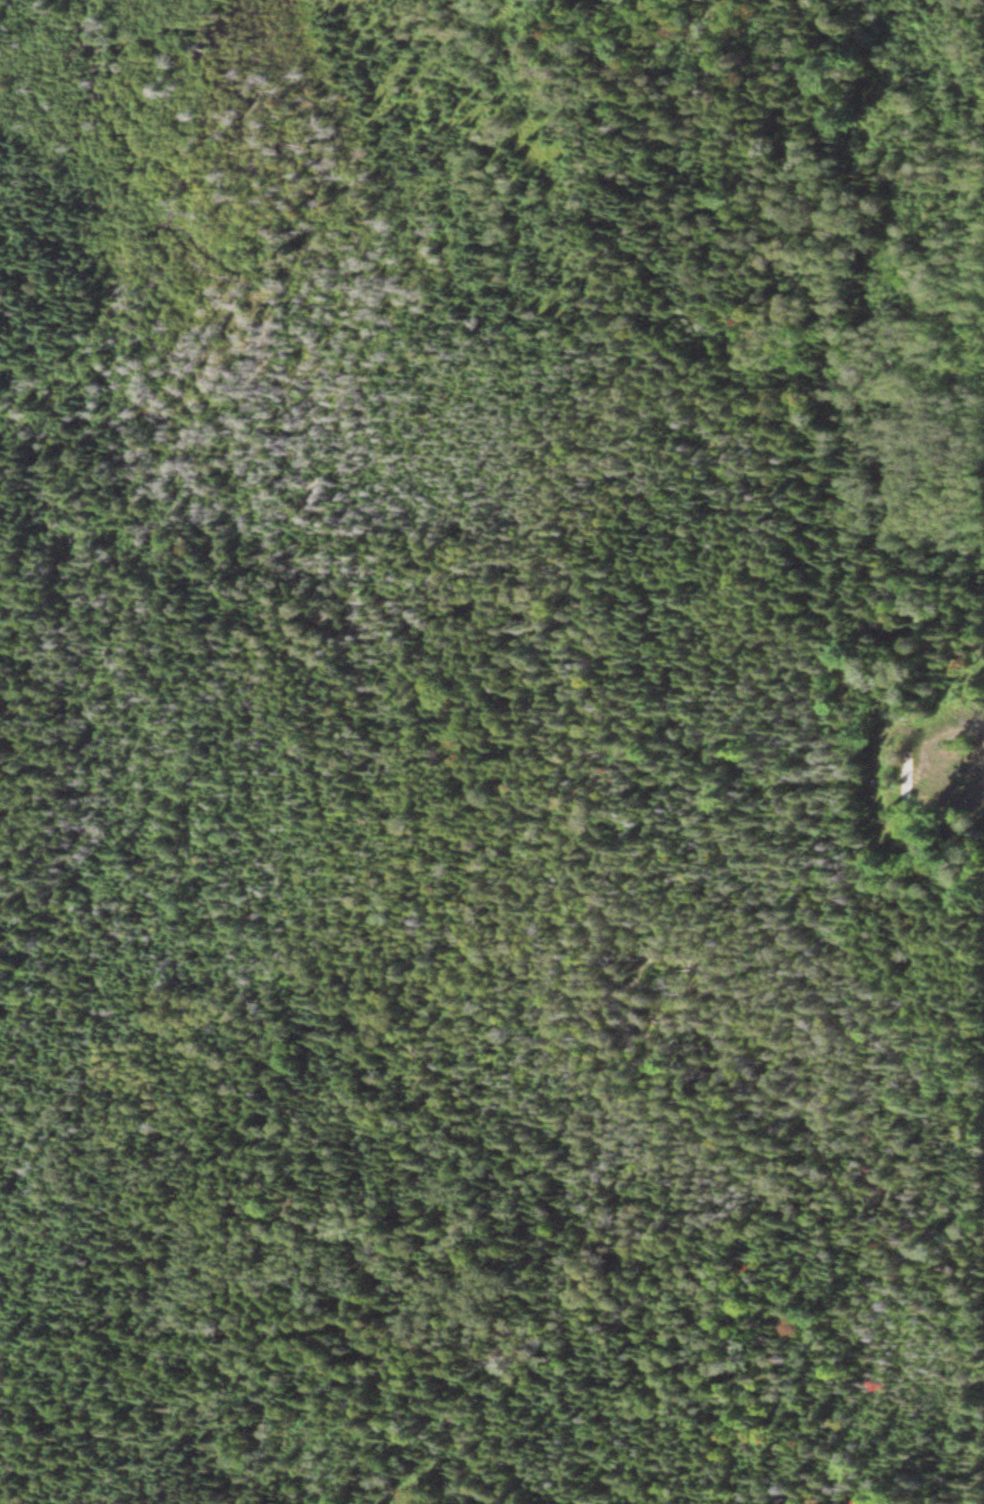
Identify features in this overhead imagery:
building: (908, 776)

